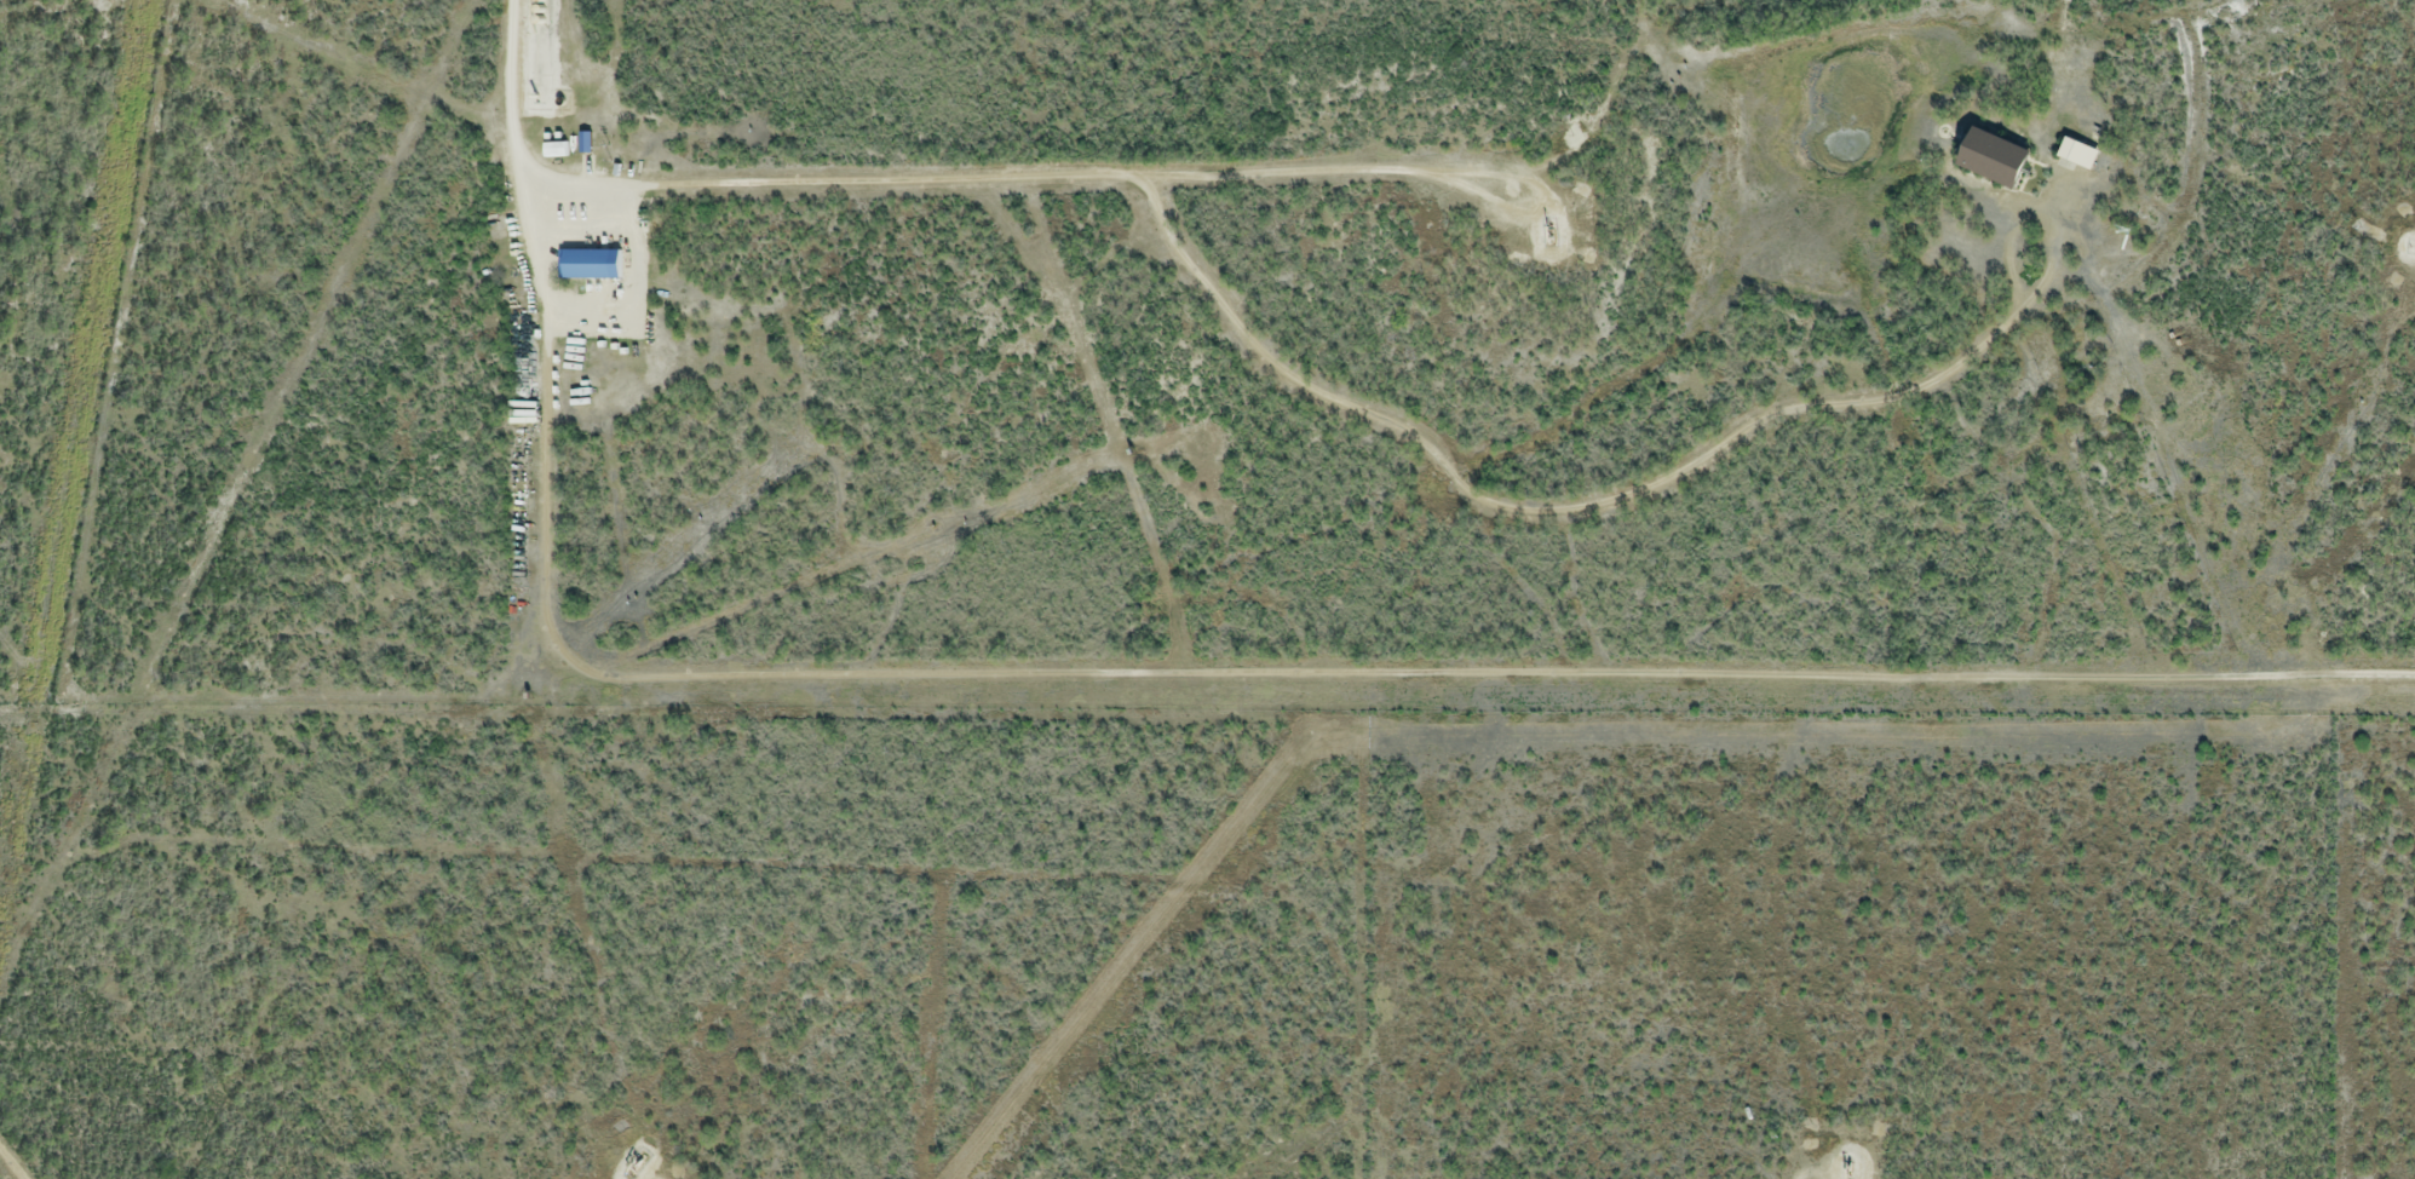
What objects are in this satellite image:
building: (2074, 154)
building: (1985, 156)

